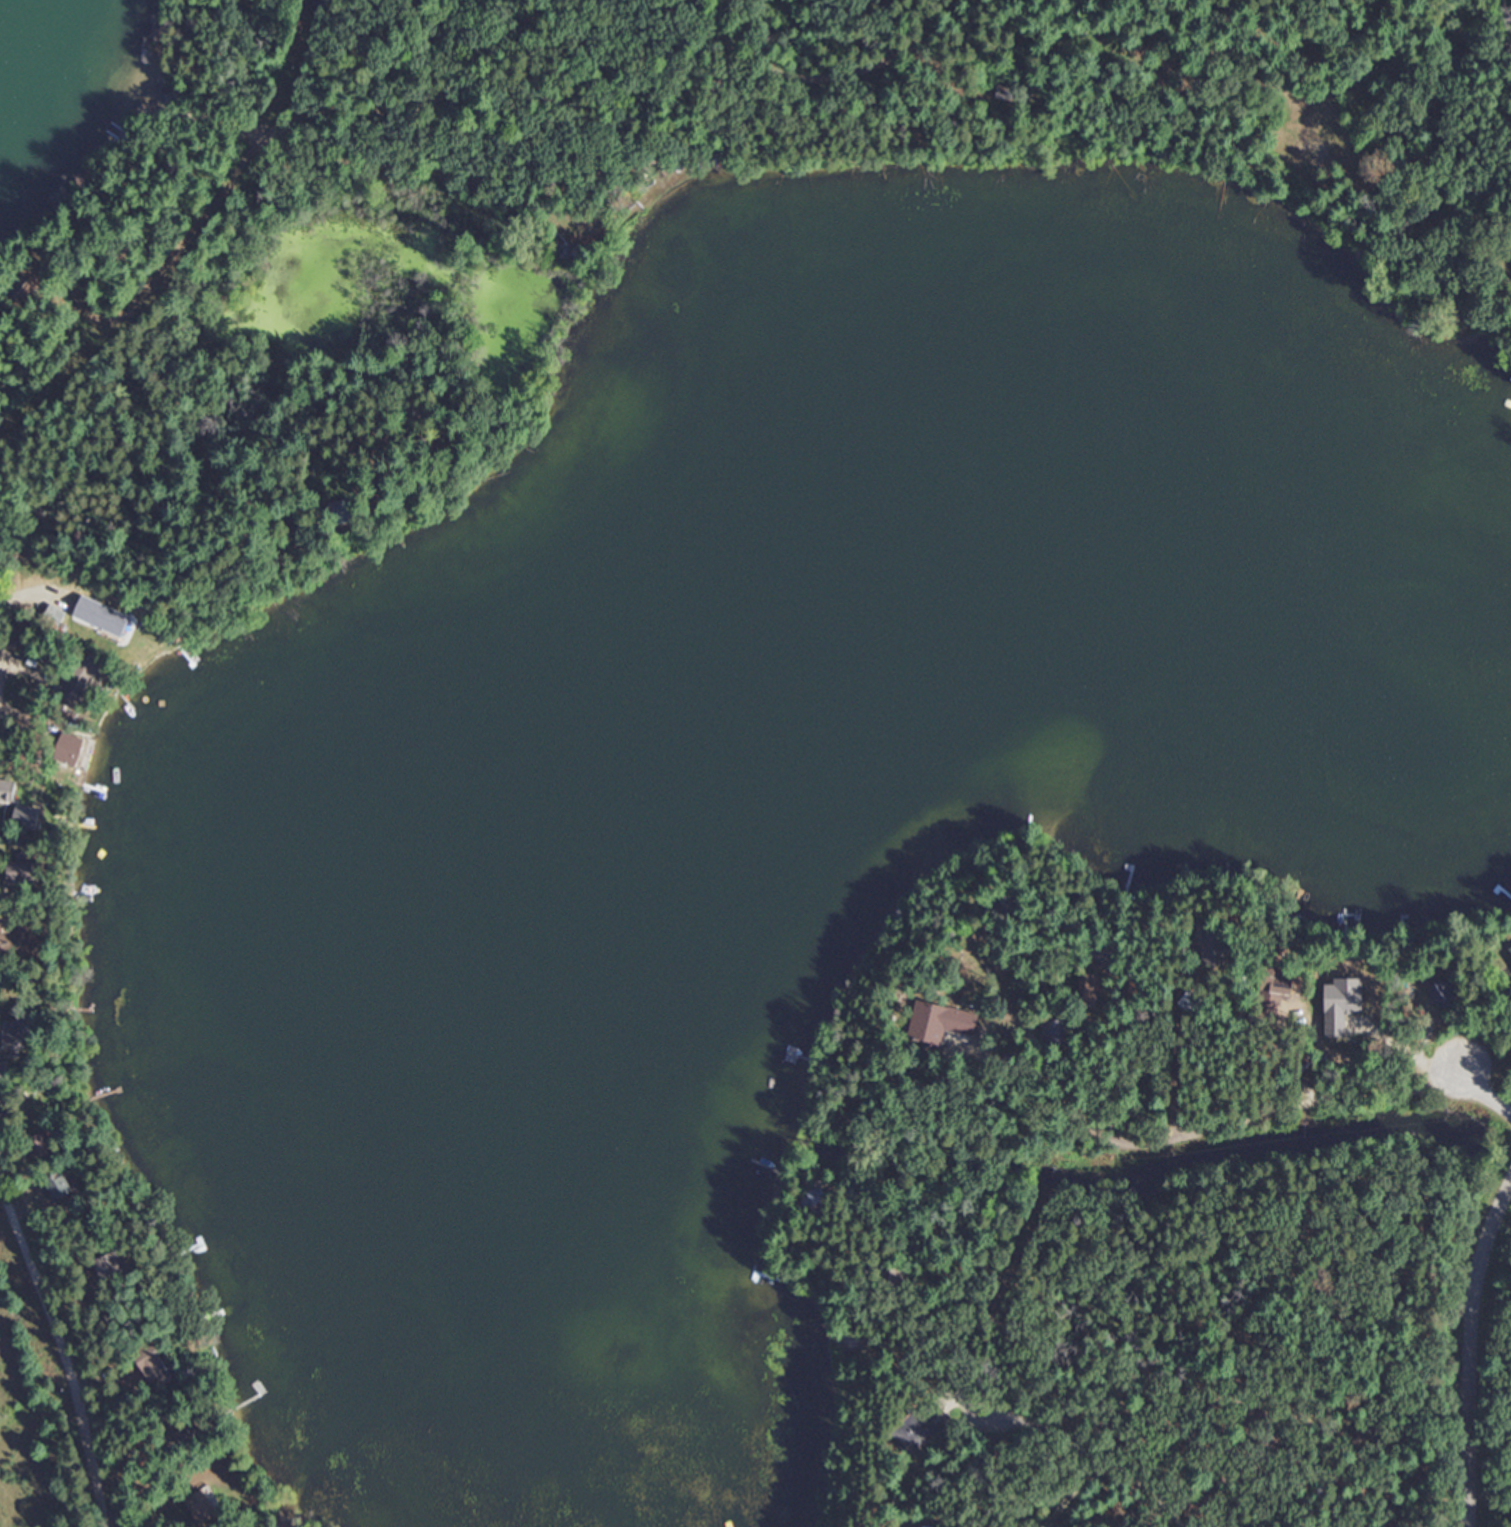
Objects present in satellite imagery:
road: (1224, 17)
road: (1215, 32)
road: (947, 73)
road: (839, 74)
building: (158, 87)
building: (1013, 92)
building: (140, 102)
road: (569, 108)
building: (280, 154)
road: (416, 164)
road: (528, 168)
road: (500, 235)
road: (202, 239)
building: (22, 289)
road: (490, 294)
road: (315, 476)
building: (338, 489)
building: (118, 626)
building: (6, 790)
building: (24, 815)
building: (15, 870)
building: (1283, 985)
building: (939, 1022)
building: (10, 1034)
building: (1051, 1035)
road: (1208, 1138)
building: (37, 1146)
building: (56, 1186)
building: (108, 1267)
road: (1471, 1353)
road: (64, 1354)
building: (154, 1368)
building: (918, 1426)
road: (1030, 1427)
road: (1108, 1473)
building: (200, 1504)
road: (1492, 1510)

